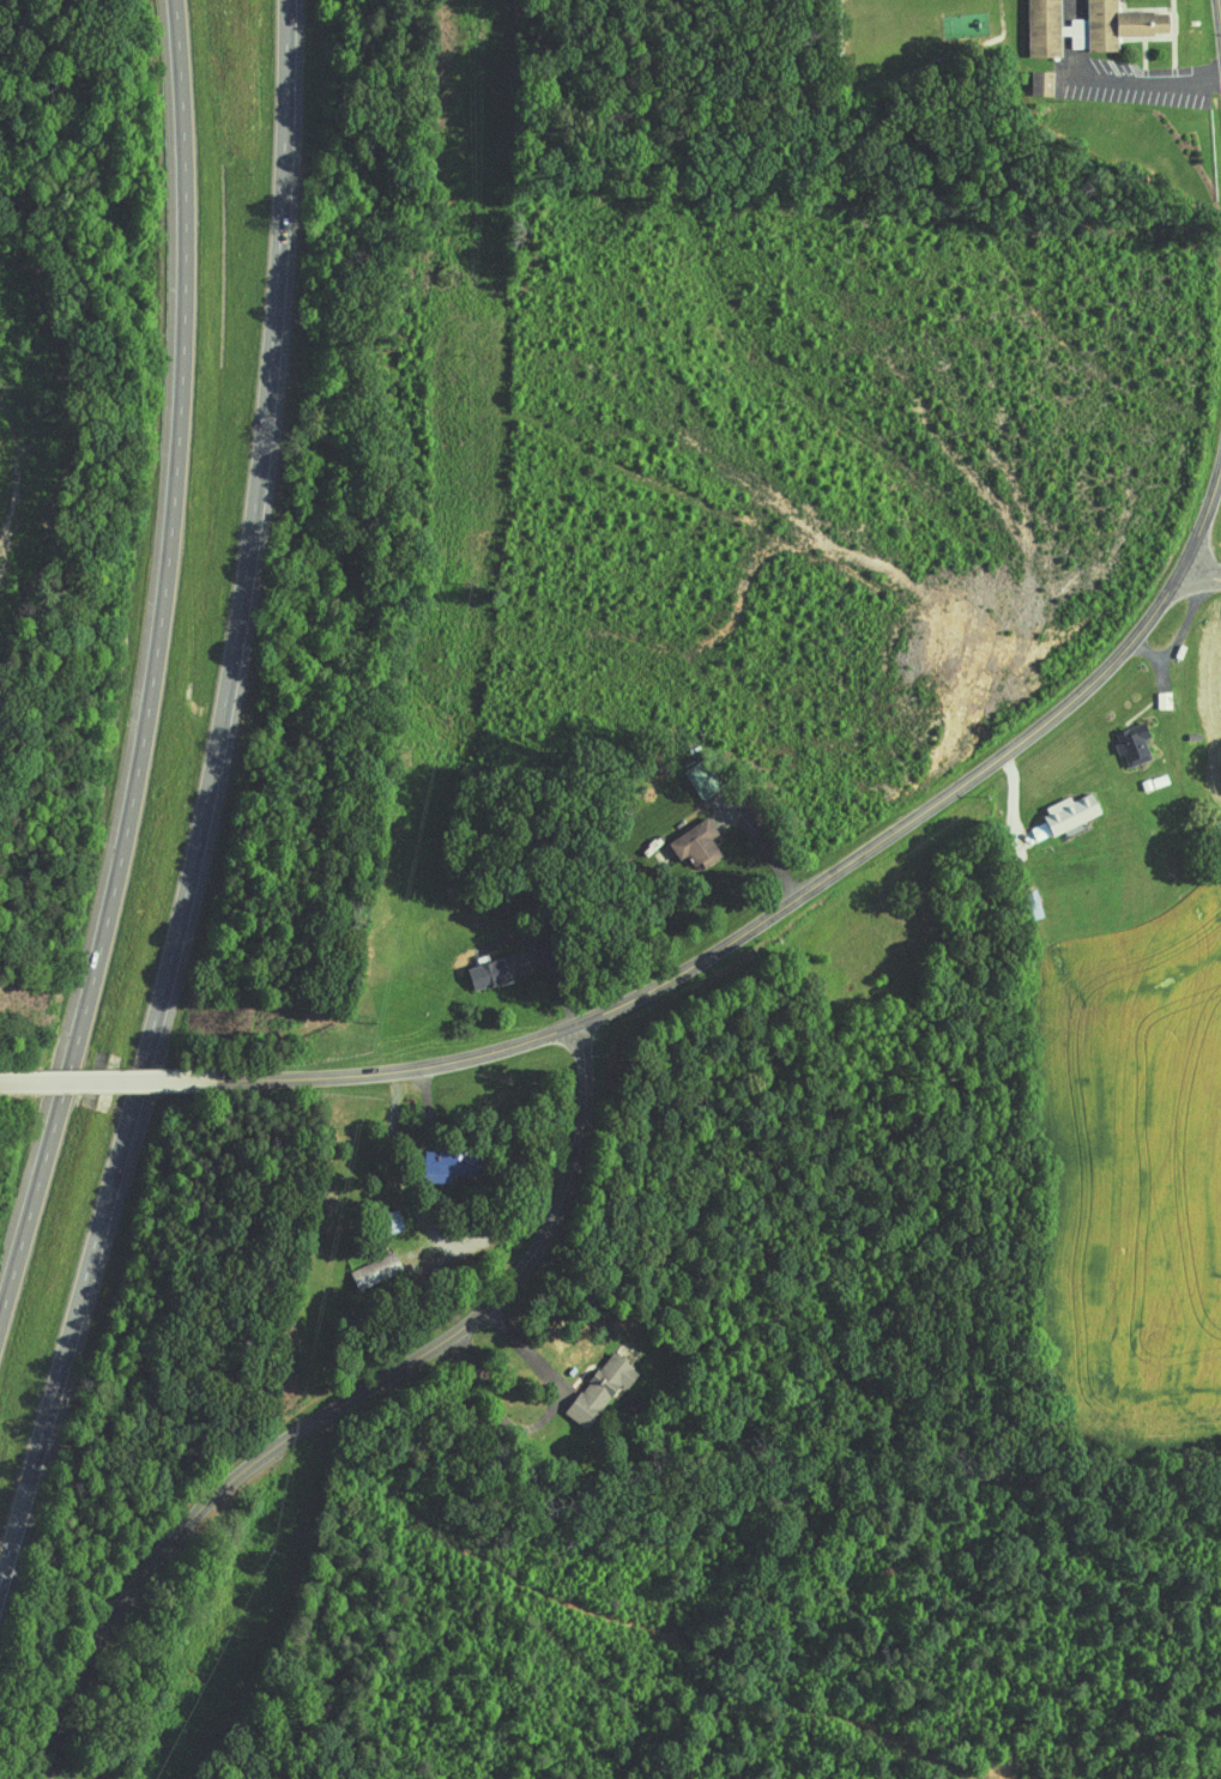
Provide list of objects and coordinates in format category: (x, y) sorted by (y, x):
road: (1220, 10)
building: (1072, 20)
building: (1026, 74)
road: (1203, 524)
road: (1201, 576)
road: (155, 672)
building: (1118, 737)
building: (1050, 807)
road: (204, 821)
building: (682, 835)
road: (750, 930)
building: (476, 964)
road: (109, 1079)
building: (425, 1157)
building: (375, 1215)
building: (361, 1264)
building: (585, 1382)
road: (340, 1404)
road: (543, 1420)
road: (65, 1760)

